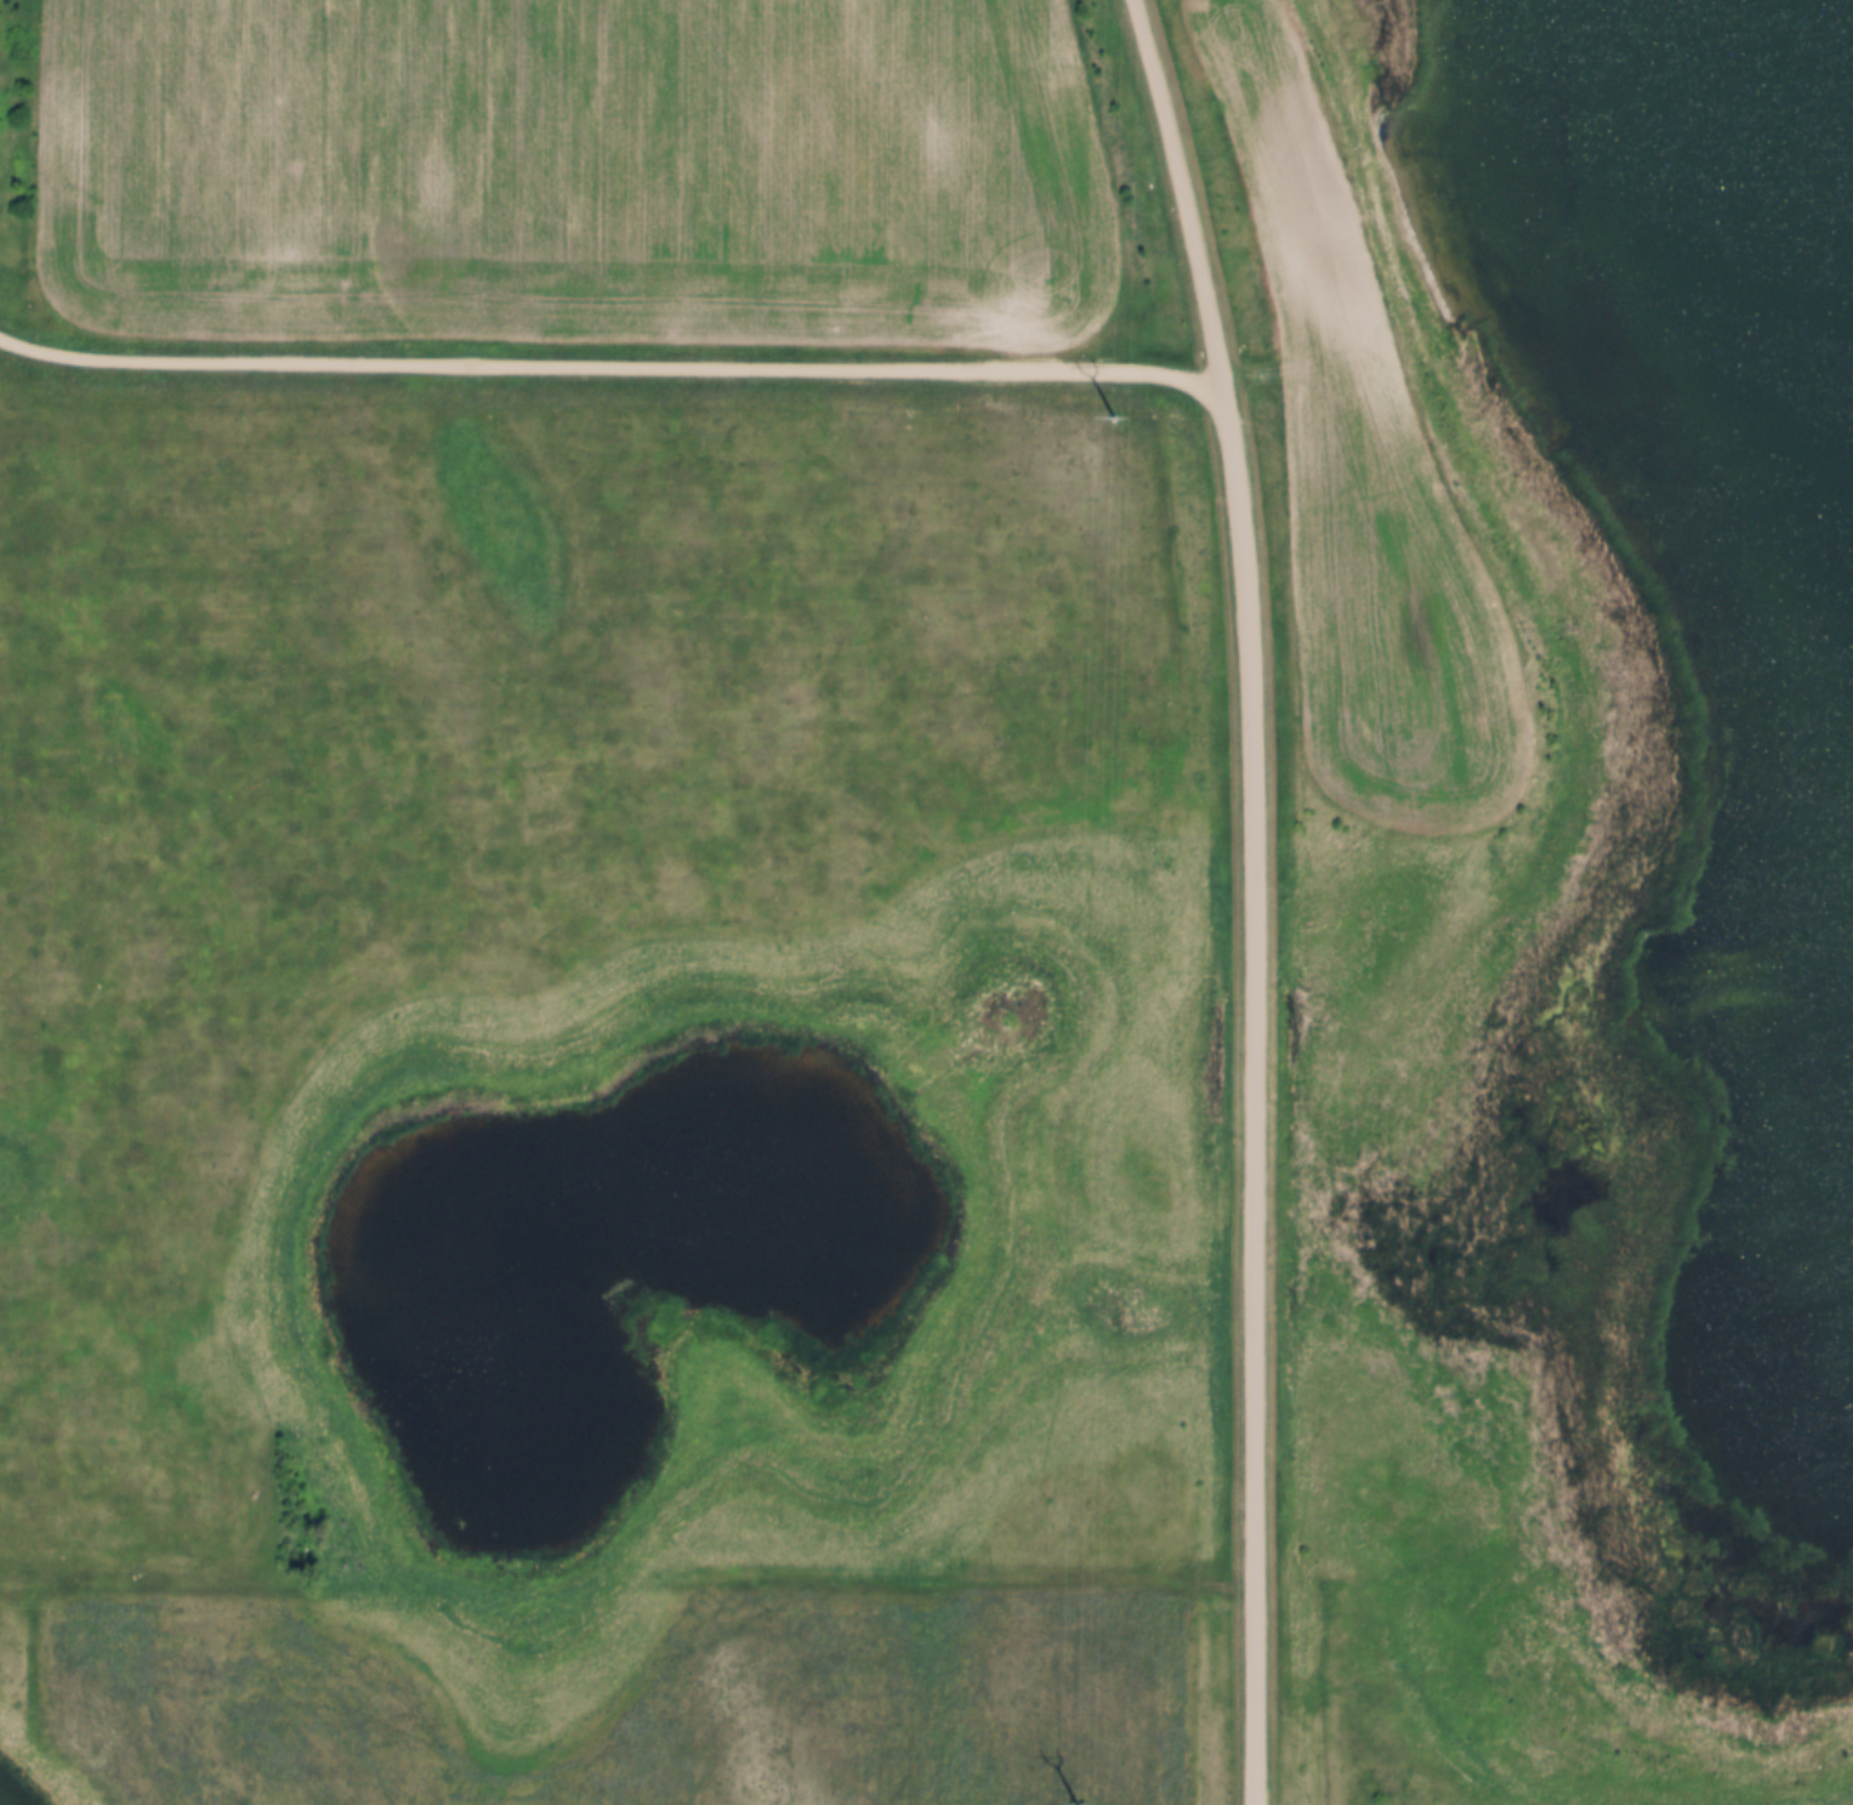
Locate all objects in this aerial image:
road: (607, 368)
road: (1254, 896)

